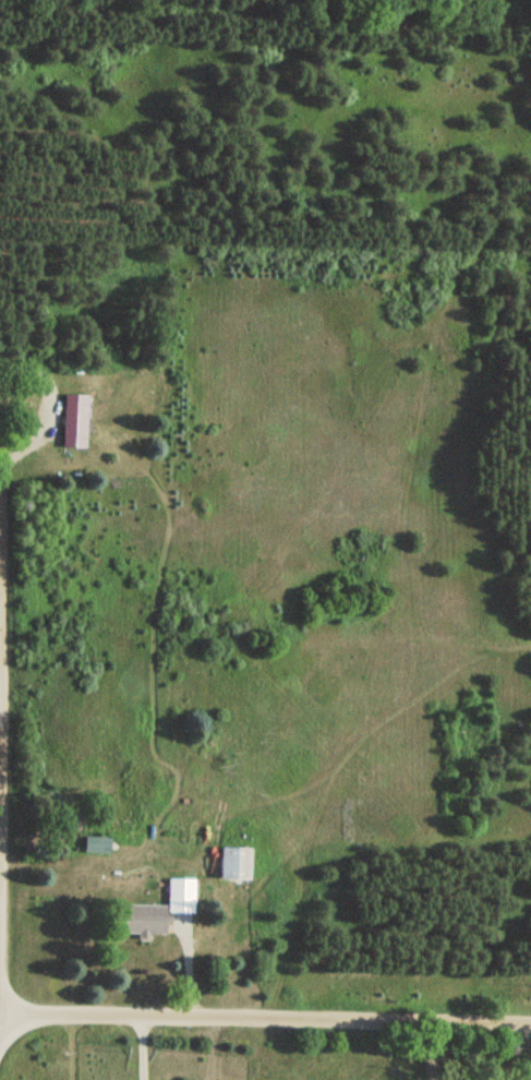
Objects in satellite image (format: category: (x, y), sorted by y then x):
building: (71, 421)
building: (230, 863)
building: (179, 895)
building: (141, 920)
road: (265, 1018)
road: (147, 1047)

